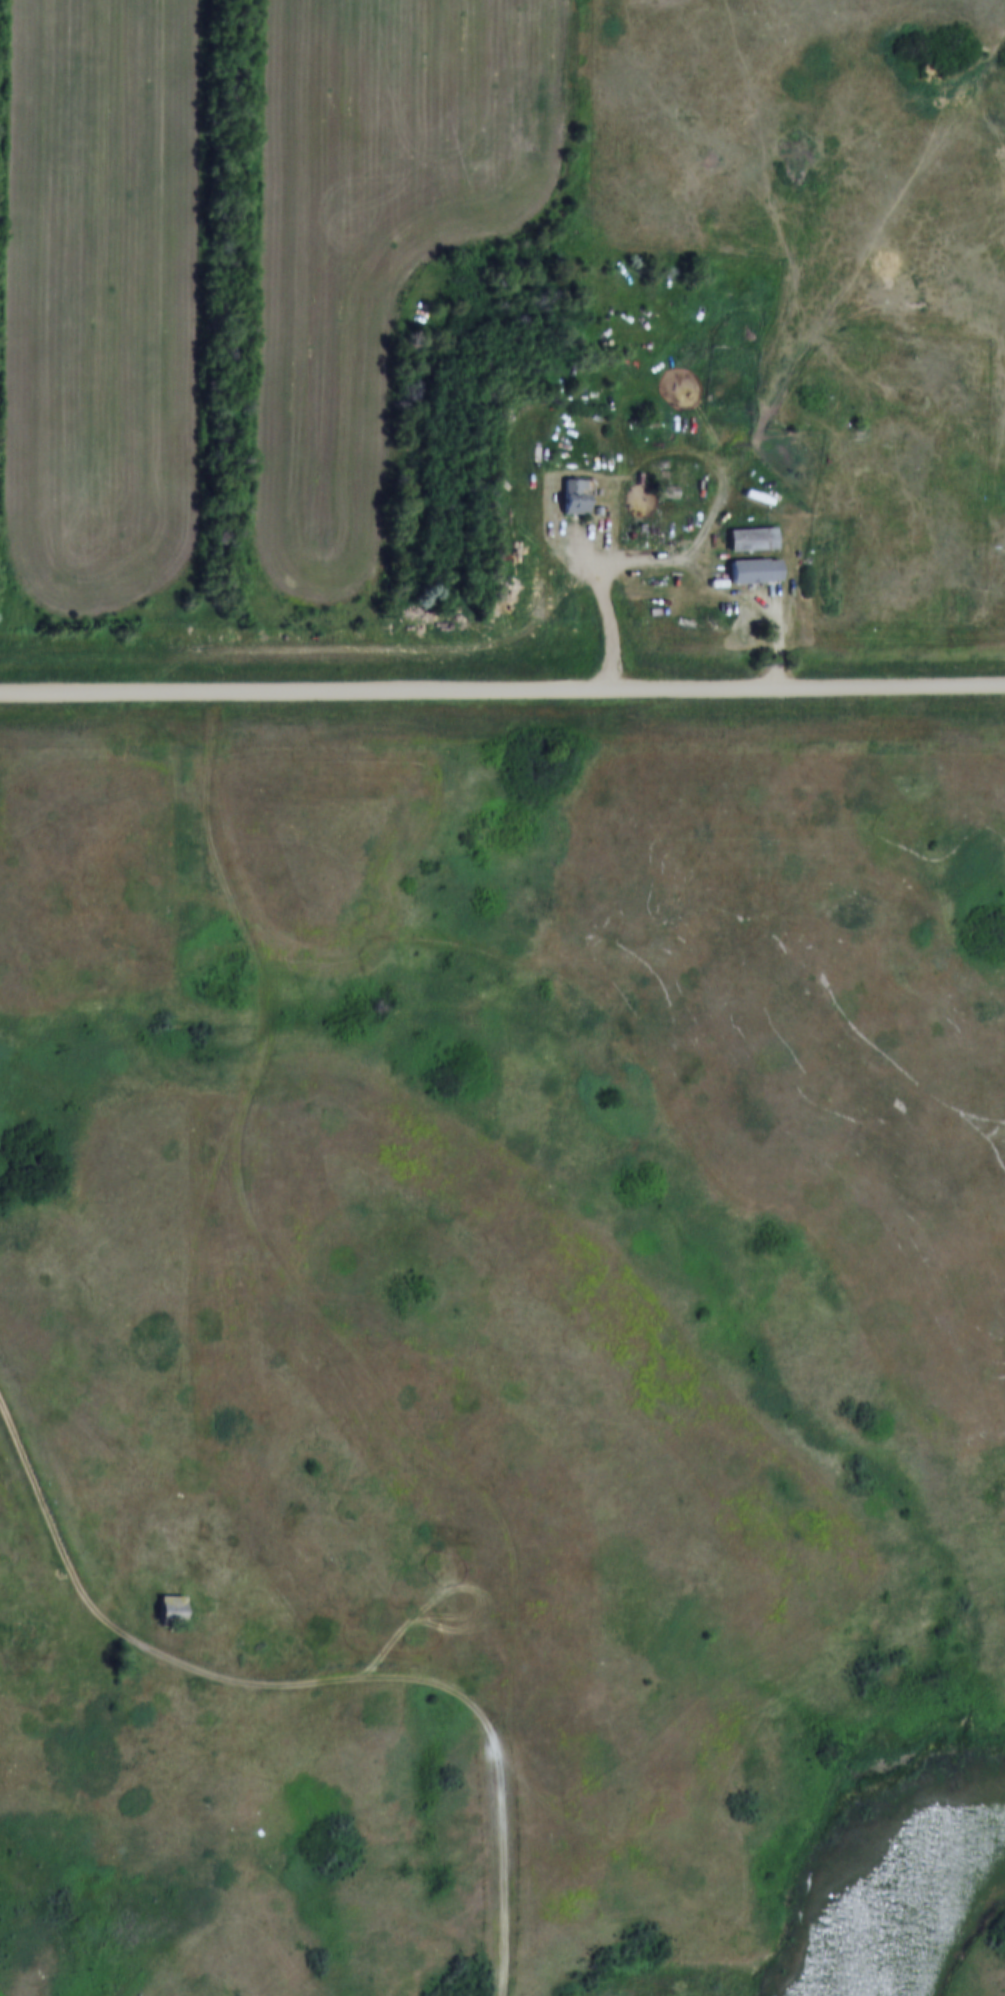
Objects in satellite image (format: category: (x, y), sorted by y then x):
building: (735, 409)
building: (726, 418)
building: (671, 485)
building: (580, 491)
building: (605, 505)
building: (759, 532)
road: (672, 558)
building: (760, 563)
building: (515, 589)
road: (502, 693)
road: (187, 1148)
building: (178, 1602)
building: (169, 1609)
building: (23, 1632)
road: (312, 1680)

